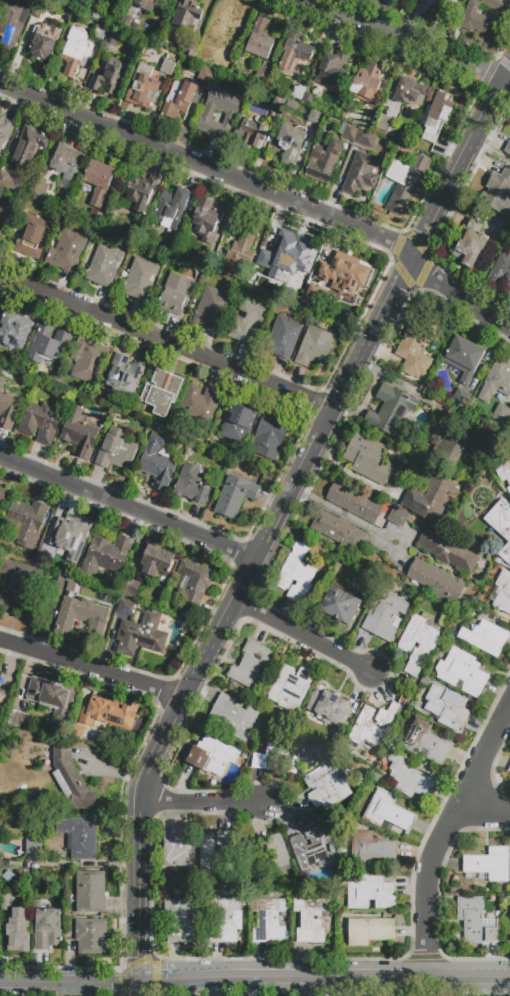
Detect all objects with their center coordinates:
building: (454, 0)
building: (428, 2)
building: (145, 4)
building: (72, 5)
building: (36, 8)
building: (186, 14)
building: (485, 16)
building: (106, 22)
building: (11, 24)
building: (224, 27)
building: (100, 32)
building: (113, 37)
building: (44, 40)
building: (259, 40)
road: (409, 40)
building: (192, 50)
building: (75, 51)
building: (294, 52)
building: (167, 68)
building: (332, 68)
building: (265, 73)
building: (204, 74)
building: (111, 78)
building: (368, 83)
building: (143, 86)
building: (300, 88)
building: (410, 92)
building: (179, 99)
building: (307, 99)
building: (292, 104)
building: (277, 105)
building: (437, 115)
building: (314, 116)
building: (206, 117)
building: (386, 127)
building: (5, 131)
building: (350, 132)
building: (251, 133)
building: (365, 137)
building: (291, 142)
building: (29, 146)
building: (508, 147)
road: (491, 152)
building: (324, 160)
building: (66, 162)
road: (209, 167)
building: (361, 173)
building: (4, 179)
building: (99, 182)
building: (405, 182)
building: (67, 188)
building: (41, 190)
building: (142, 192)
building: (498, 192)
building: (172, 209)
building: (95, 217)
building: (206, 221)
building: (3, 223)
building: (498, 225)
building: (32, 236)
building: (471, 244)
building: (242, 247)
building: (281, 250)
building: (67, 251)
building: (211, 260)
building: (104, 265)
building: (501, 271)
building: (346, 275)
building: (140, 278)
building: (257, 280)
building: (176, 294)
road: (459, 295)
building: (211, 307)
building: (342, 317)
road: (467, 317)
building: (247, 322)
building: (15, 331)
building: (284, 336)
building: (48, 344)
road: (167, 344)
building: (314, 347)
building: (415, 348)
building: (463, 358)
building: (88, 360)
building: (124, 375)
building: (498, 389)
building: (161, 392)
building: (461, 397)
building: (200, 405)
building: (7, 407)
building: (391, 411)
building: (40, 422)
building: (238, 424)
building: (79, 433)
building: (269, 437)
building: (449, 442)
building: (115, 450)
building: (367, 458)
building: (158, 463)
building: (501, 469)
building: (191, 485)
building: (3, 496)
building: (235, 496)
building: (430, 497)
building: (353, 502)
road: (128, 507)
road: (348, 516)
building: (397, 516)
road: (279, 517)
building: (26, 521)
building: (501, 525)
building: (339, 531)
building: (65, 538)
building: (448, 551)
building: (106, 555)
building: (156, 561)
building: (296, 574)
building: (436, 581)
building: (64, 582)
building: (20, 585)
building: (194, 585)
building: (132, 588)
building: (502, 592)
building: (339, 605)
building: (127, 608)
building: (385, 616)
building: (81, 617)
building: (141, 635)
road: (304, 637)
building: (485, 637)
building: (418, 642)
building: (251, 666)
road: (92, 669)
building: (462, 672)
building: (0, 673)
street lamp: (172, 677)
street lamp: (387, 683)
building: (290, 687)
building: (52, 696)
building: (3, 698)
building: (329, 707)
building: (446, 708)
building: (107, 714)
building: (232, 717)
building: (19, 720)
building: (371, 725)
building: (77, 732)
building: (425, 743)
building: (280, 752)
building: (211, 756)
building: (509, 769)
road: (109, 773)
road: (475, 773)
building: (408, 777)
building: (71, 780)
building: (326, 784)
road: (200, 802)
building: (386, 811)
building: (79, 837)
building: (312, 843)
building: (33, 846)
building: (179, 847)
building: (371, 848)
building: (215, 852)
building: (268, 855)
building: (489, 863)
building: (8, 876)
road: (424, 883)
building: (370, 892)
building: (91, 893)
building: (5, 902)
building: (39, 904)
building: (183, 919)
building: (225, 920)
building: (310, 920)
building: (268, 921)
building: (476, 921)
building: (17, 927)
building: (48, 930)
building: (370, 930)
building: (91, 936)
road: (480, 965)
road: (323, 979)
traffic signals: (137, 985)
road: (68, 986)
road: (137, 990)

